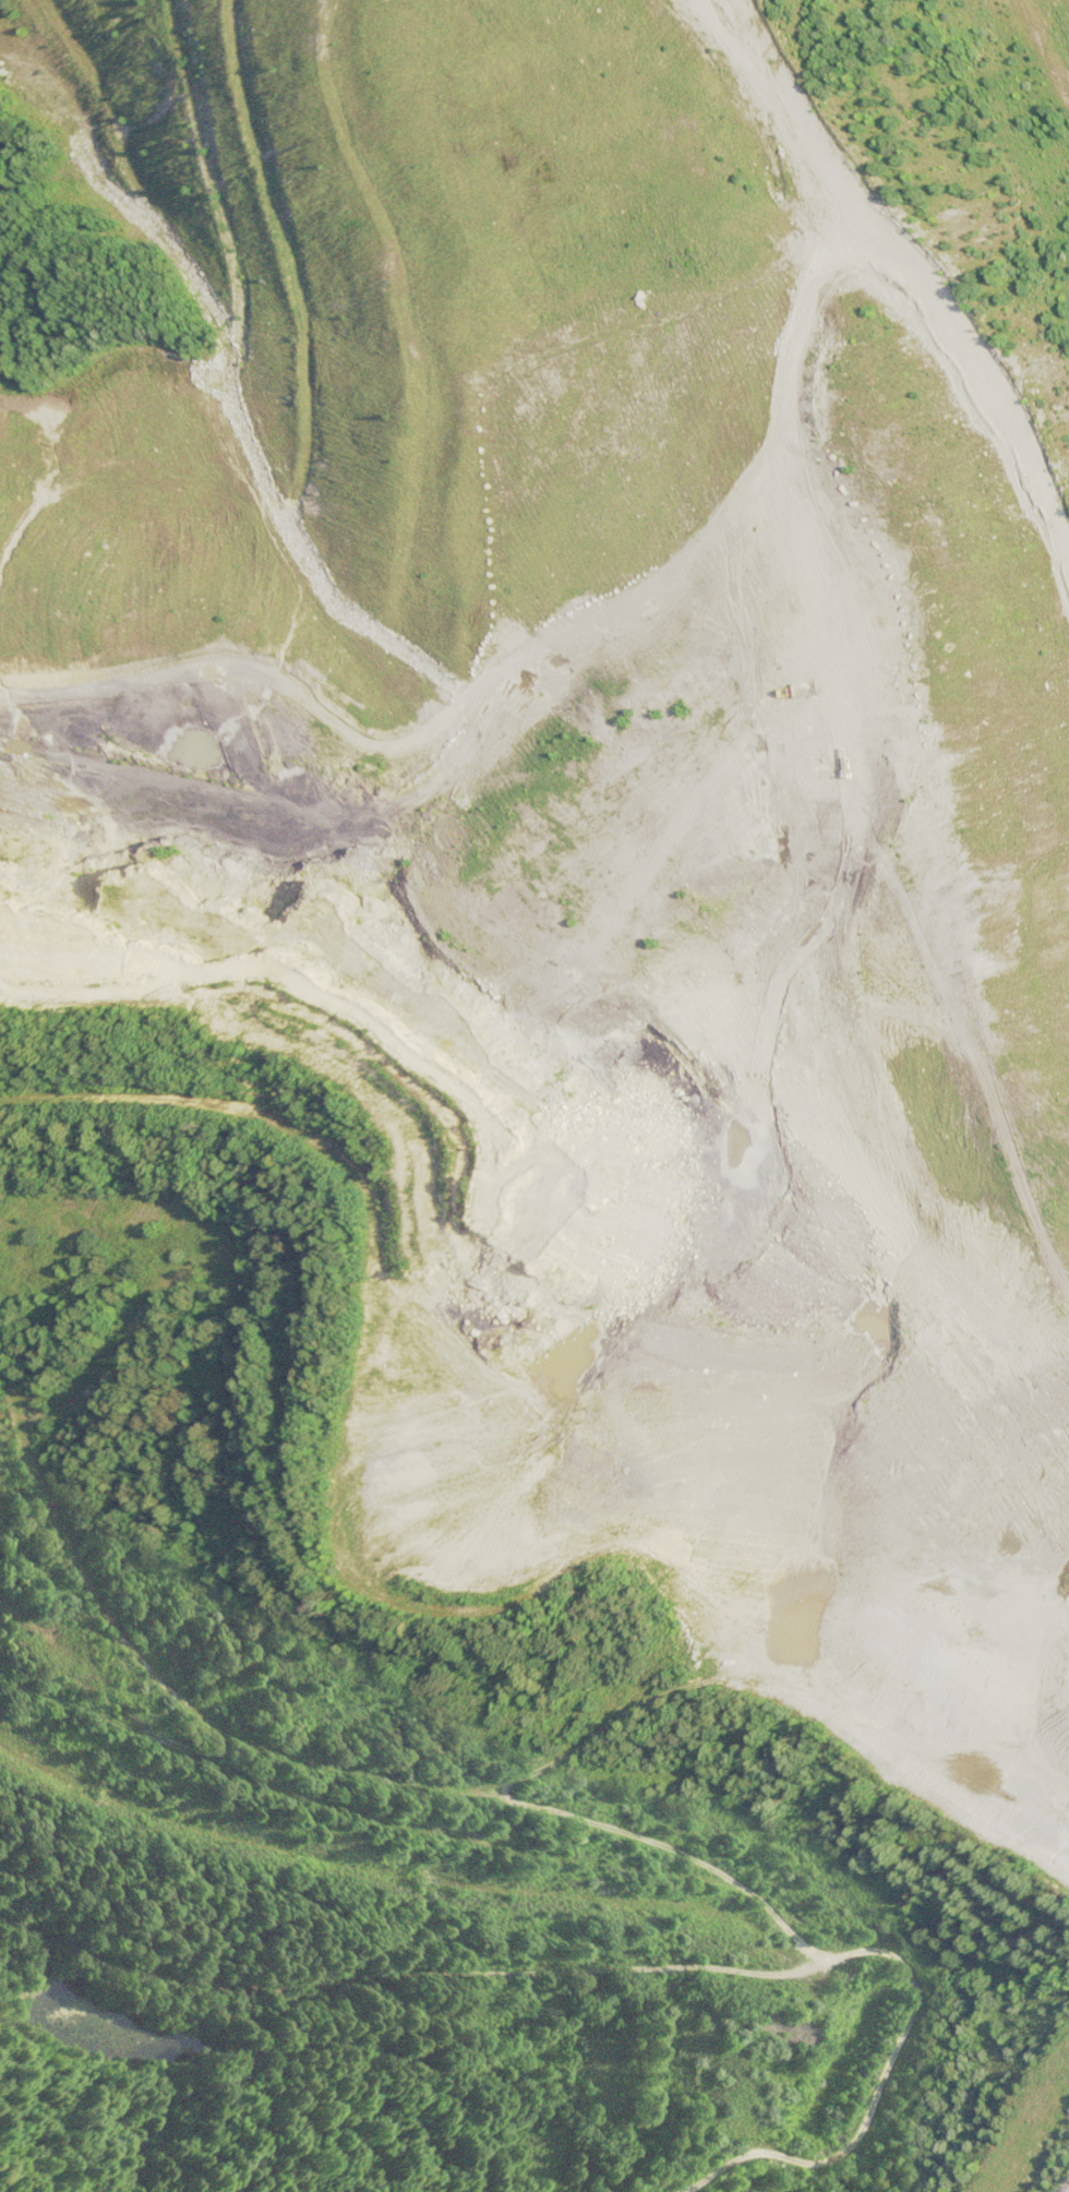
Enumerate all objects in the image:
quarry: (605, 791)
quarry: (4, 1293)
quarry: (1031, 2129)

